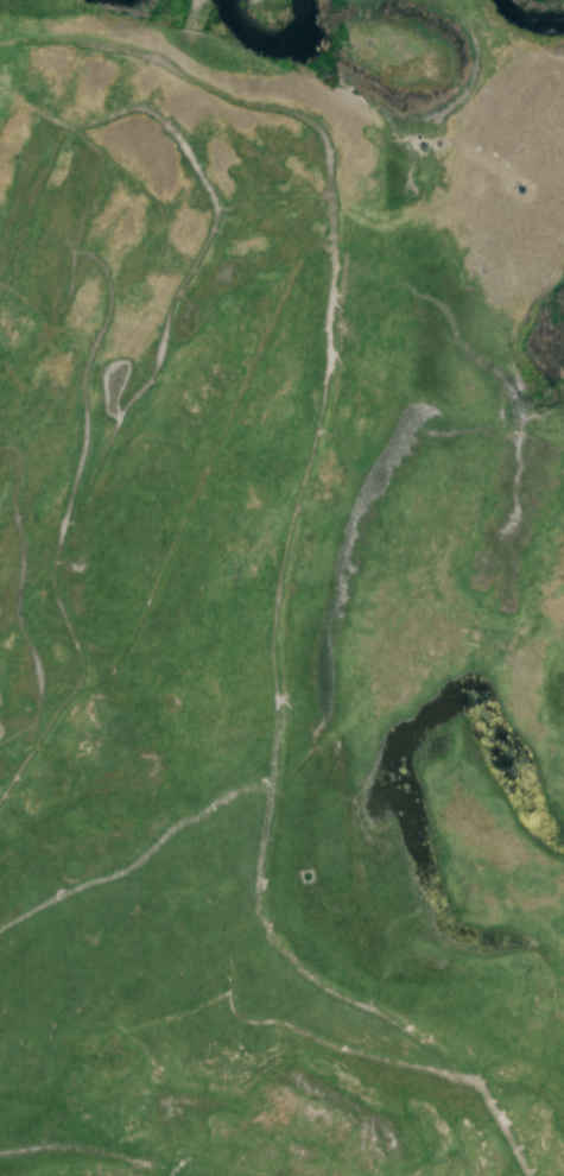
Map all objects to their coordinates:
river: (101, 0)
river: (297, 12)
river: (524, 21)
river: (247, 36)
river: (294, 36)

